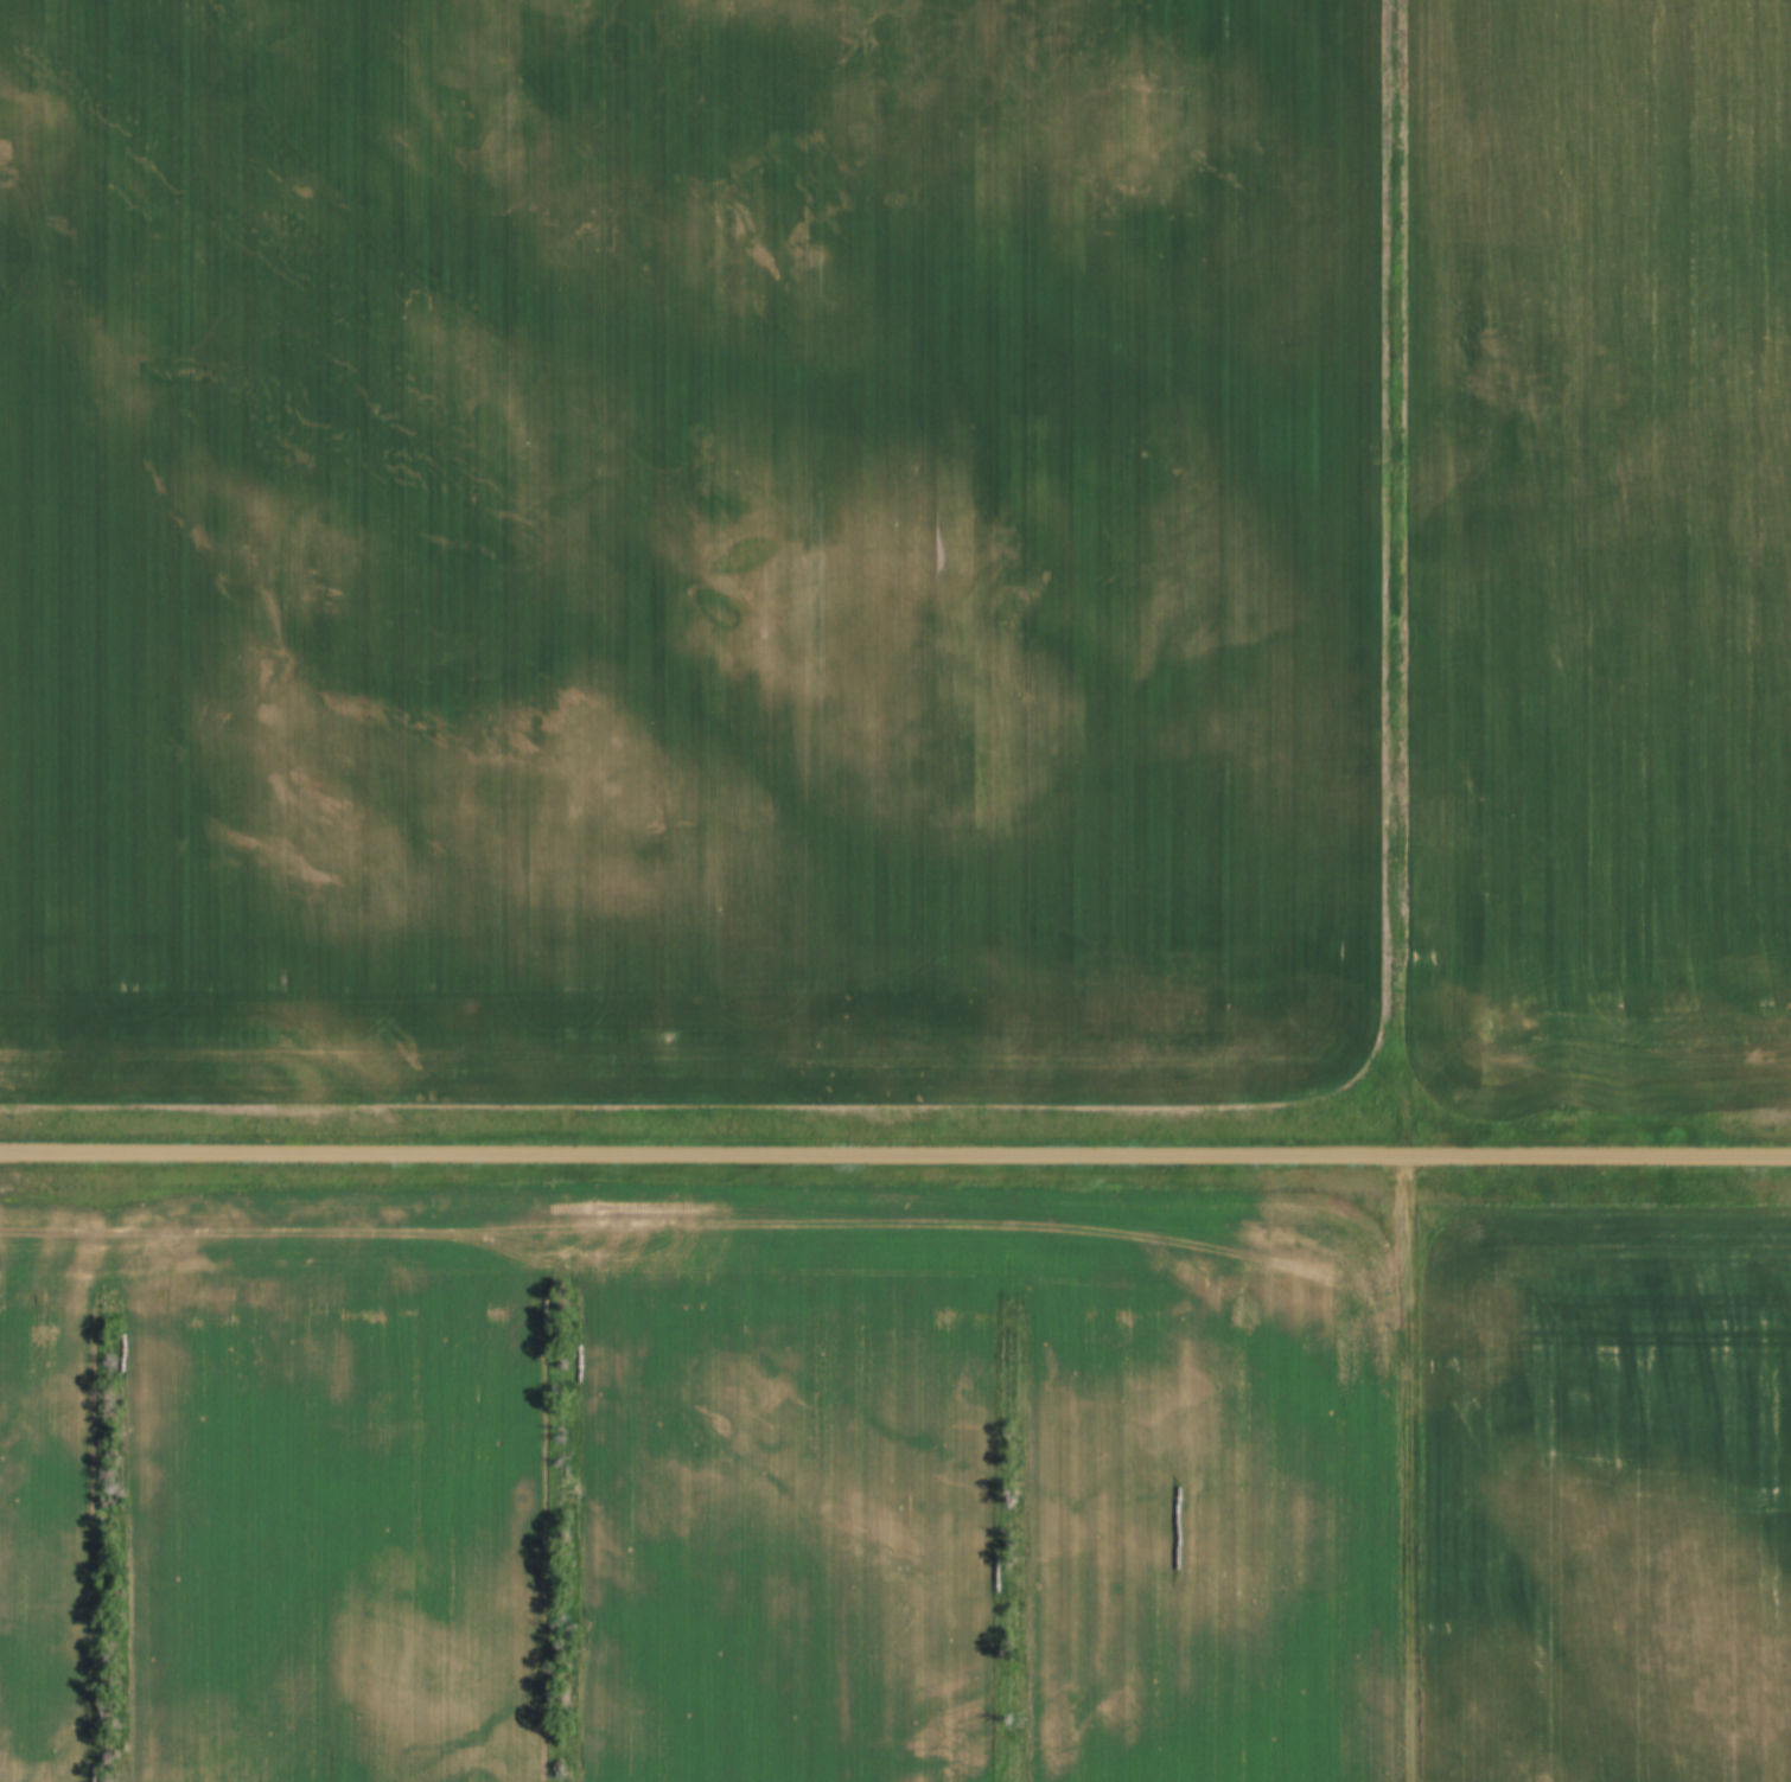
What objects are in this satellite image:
road: (894, 1156)

